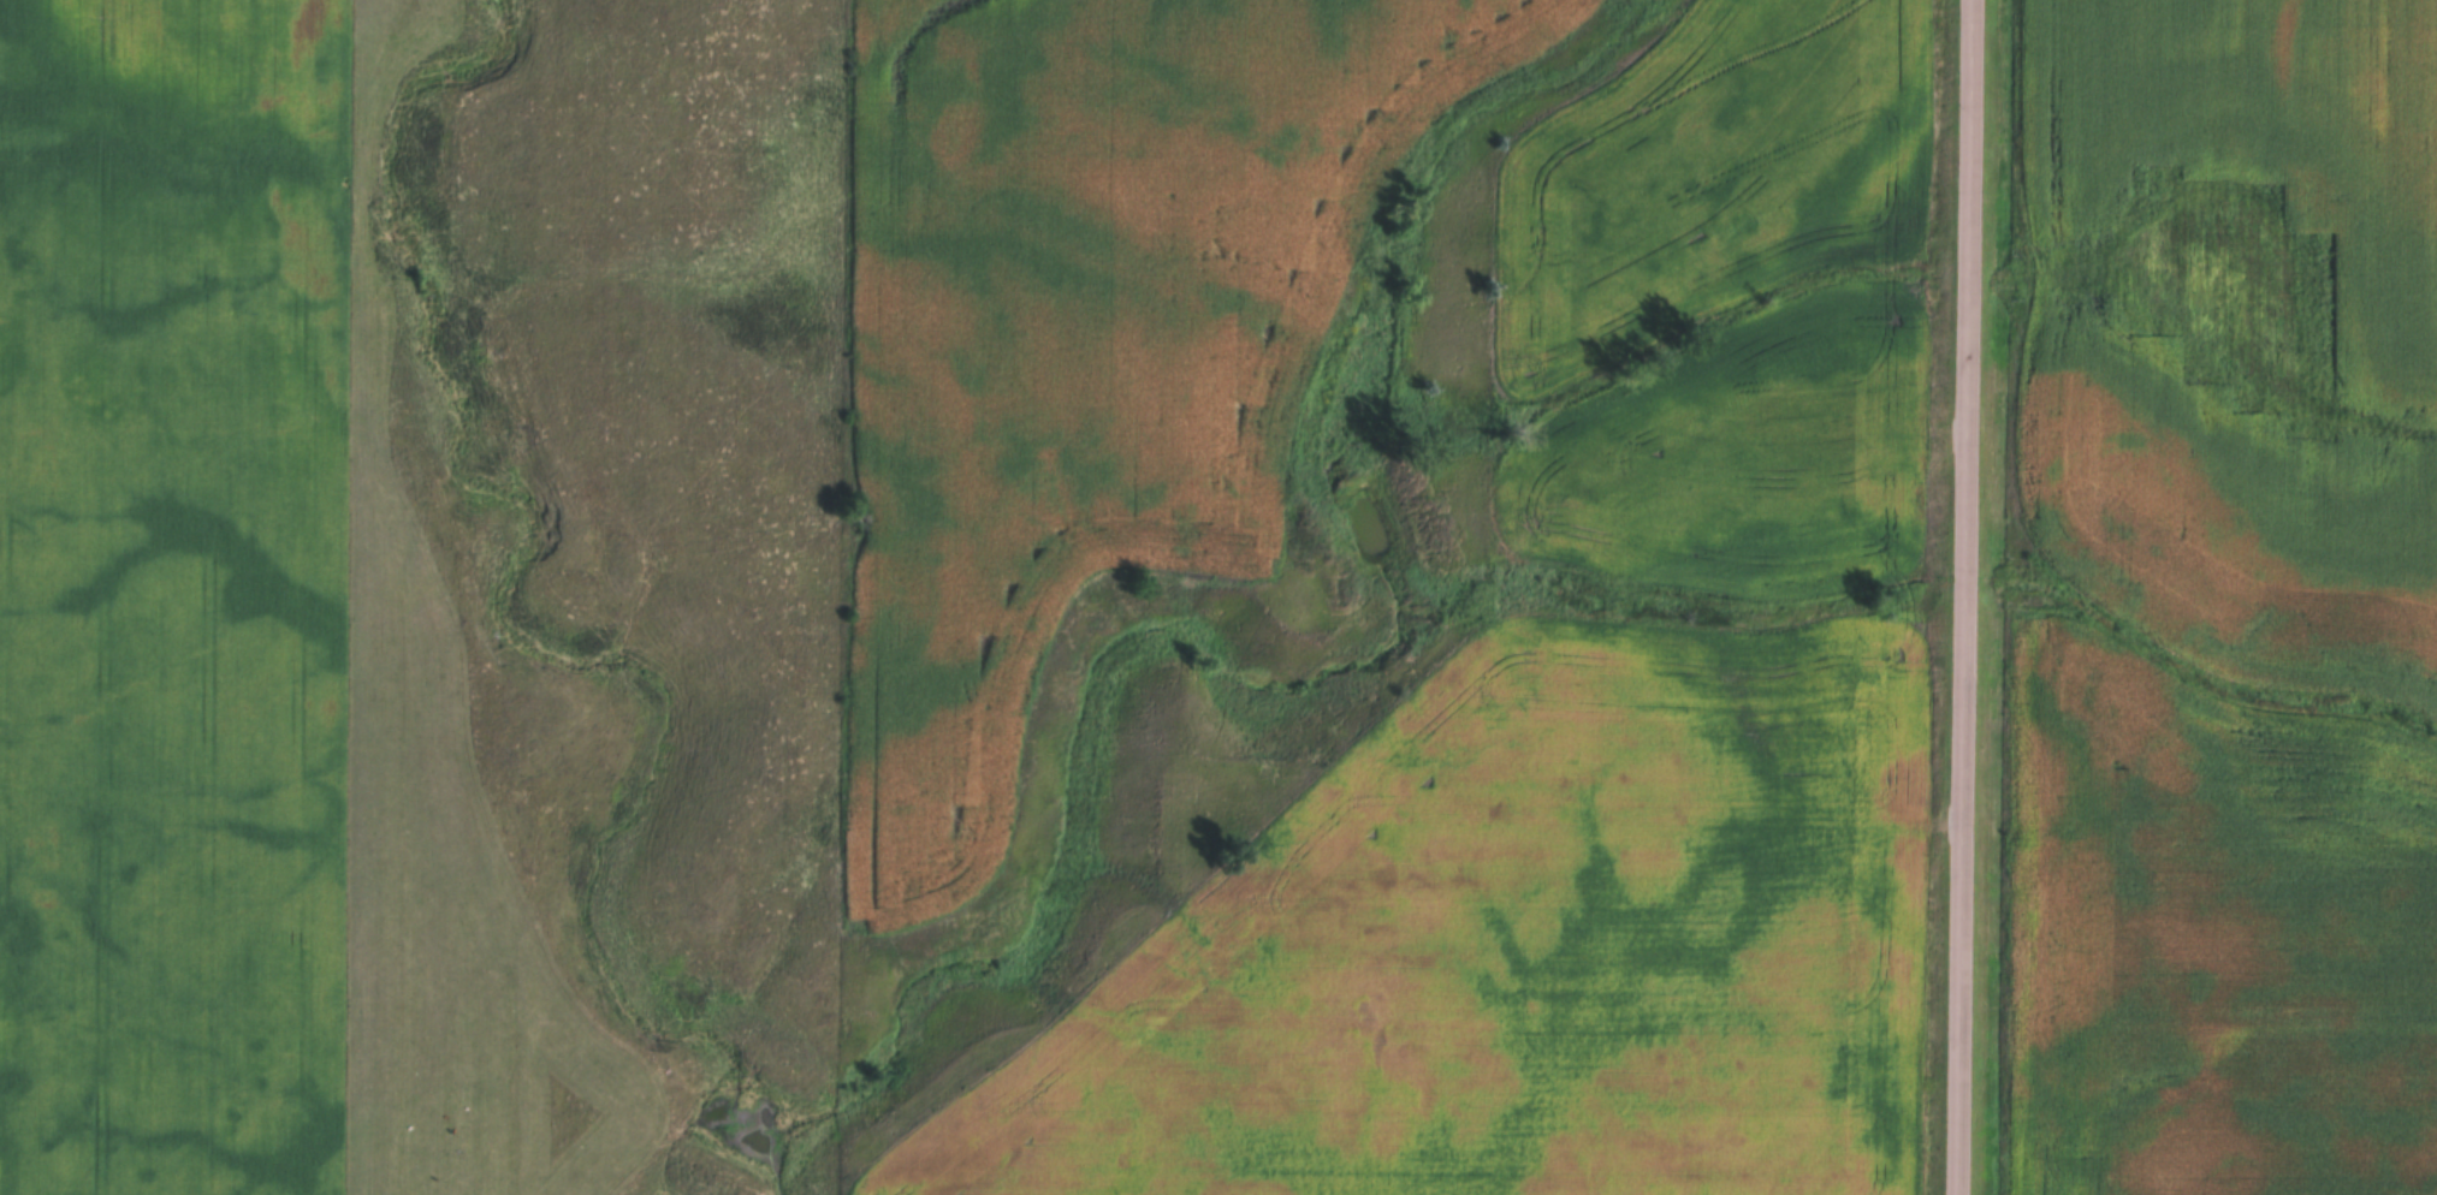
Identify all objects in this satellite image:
road: (1973, 597)

